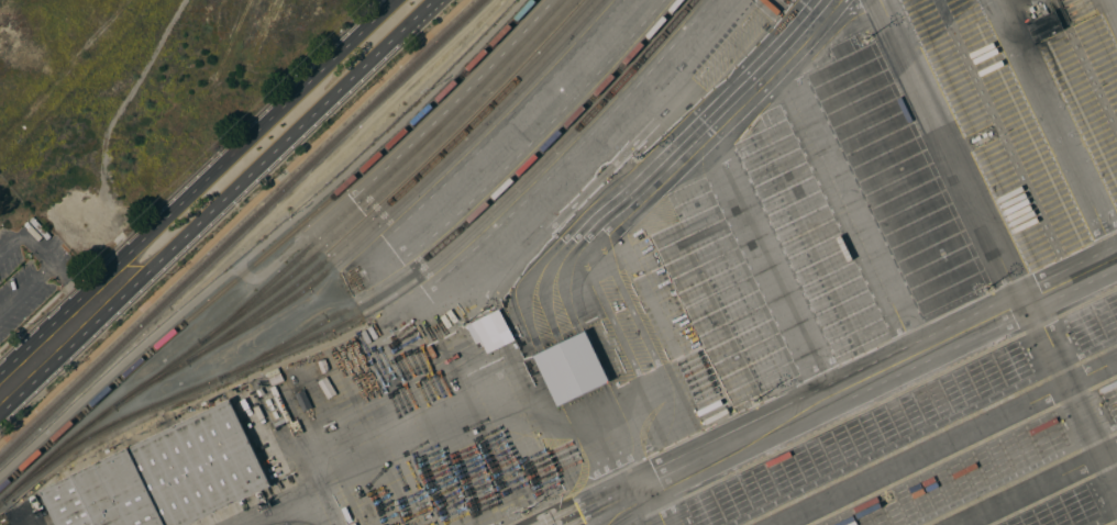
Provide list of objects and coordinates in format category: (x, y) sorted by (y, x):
road: (954, 150)
road: (252, 153)
railway: (387, 177)
railway: (401, 193)
railway: (473, 217)
road: (232, 221)
railway: (241, 228)
railway: (378, 228)
road: (25, 237)
railway: (273, 250)
railway: (302, 268)
road: (70, 284)
road: (25, 288)
railway: (386, 302)
building: (491, 329)
road: (45, 349)
building: (572, 369)
road: (883, 371)
road: (7, 376)
building: (261, 391)
road: (1072, 395)
road: (941, 440)
building: (165, 476)
road: (1028, 481)
road: (595, 500)
road: (659, 504)
road: (637, 509)

